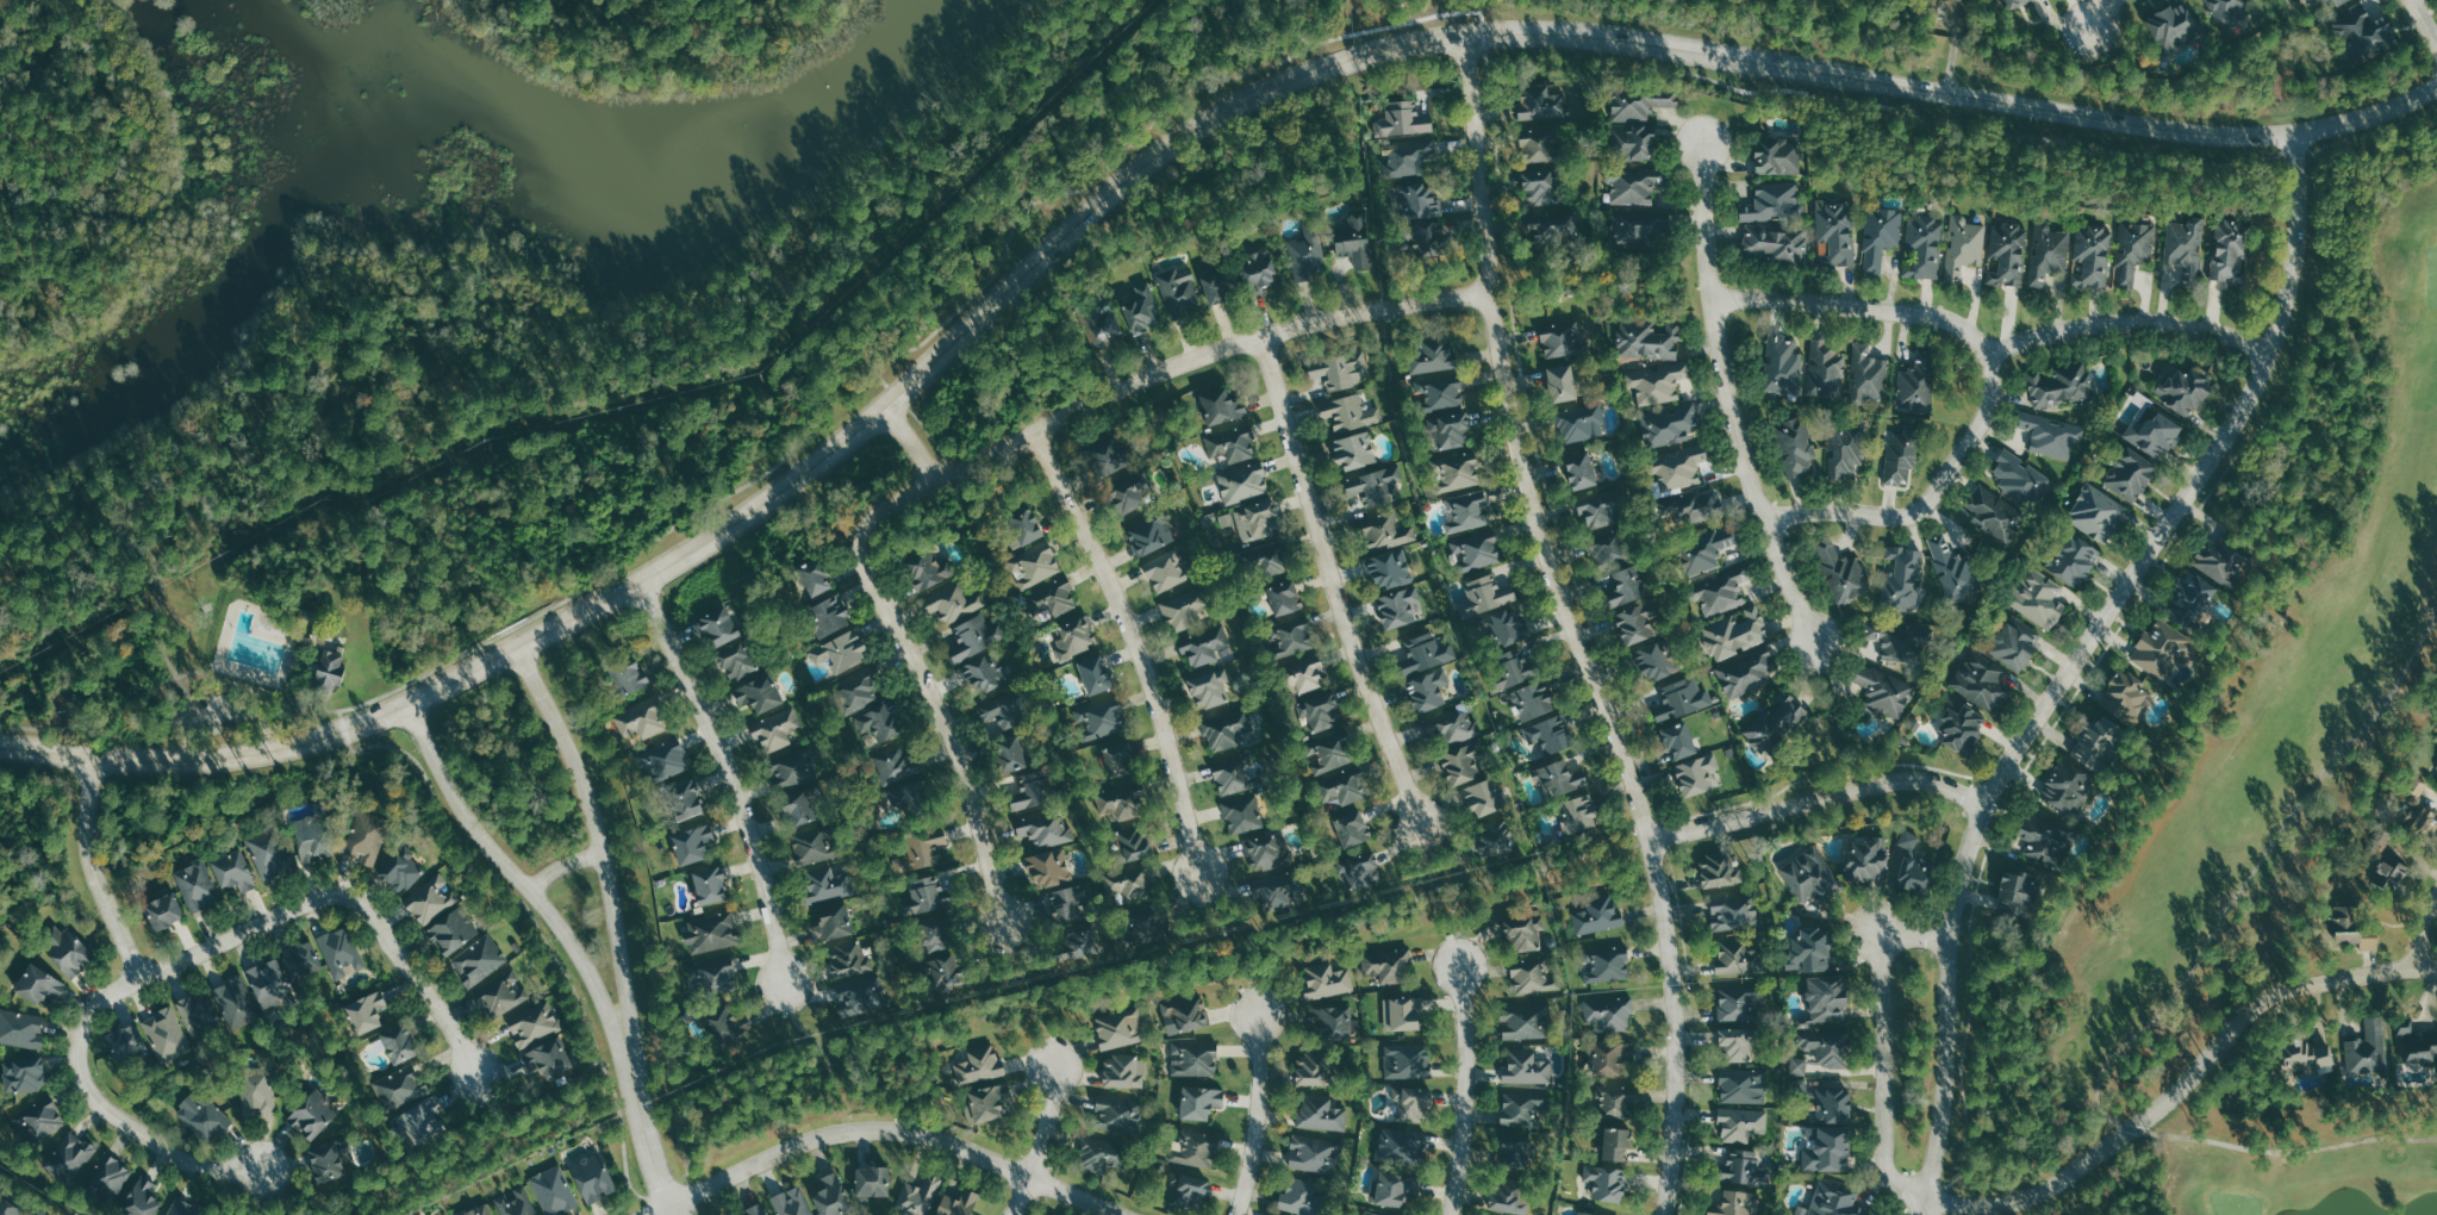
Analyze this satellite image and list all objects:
building: (2331, 2)
building: (2013, 4)
road: (1402, 11)
road: (2103, 13)
road: (2426, 20)
park: (1335, 26)
building: (2174, 26)
road: (1609, 32)
building: (2364, 35)
building: (1540, 102)
building: (1403, 119)
building: (1637, 120)
road: (1133, 145)
building: (1776, 156)
building: (1410, 160)
building: (1633, 185)
building: (1537, 188)
building: (1774, 202)
building: (1420, 222)
building: (1640, 228)
building: (1835, 231)
building: (1881, 237)
building: (1354, 239)
building: (1775, 244)
building: (2186, 245)
building: (1964, 247)
building: (1924, 248)
building: (2230, 250)
building: (2133, 251)
building: (1308, 253)
building: (2048, 254)
building: (2008, 255)
building: (2093, 257)
building: (1258, 269)
building: (1216, 281)
building: (1179, 291)
building: (1141, 311)
building: (1101, 324)
building: (1557, 339)
building: (1647, 339)
road: (1996, 351)
building: (1432, 355)
building: (1783, 364)
building: (1826, 368)
building: (1340, 369)
building: (1868, 374)
building: (1560, 382)
building: (1657, 382)
building: (2061, 385)
building: (1915, 387)
road: (1122, 388)
building: (2184, 390)
building: (1438, 392)
road: (1732, 399)
building: (1221, 405)
building: (1350, 413)
building: (1579, 422)
building: (1669, 424)
building: (1450, 428)
building: (2154, 432)
building: (2051, 435)
building: (1234, 442)
road: (911, 445)
building: (1794, 447)
building: (1354, 450)
building: (1844, 450)
building: (1901, 455)
building: (1105, 456)
building: (1678, 467)
building: (1579, 469)
building: (1456, 472)
building: (2130, 473)
building: (2021, 476)
building: (1242, 481)
building: (1375, 484)
building: (1130, 492)
road: (1930, 505)
building: (1695, 507)
building: (1466, 511)
building: (1597, 512)
building: (2096, 512)
building: (1993, 513)
building: (1253, 519)
building: (1022, 524)
building: (1385, 531)
building: (1149, 534)
building: (1476, 549)
building: (1704, 550)
building: (1612, 552)
building: (2073, 560)
building: (2219, 560)
building: (1271, 561)
building: (1035, 565)
building: (927, 568)
building: (1389, 568)
building: (1953, 568)
building: (1166, 571)
building: (1840, 572)
building: (814, 575)
building: (1902, 577)
road: (1333, 582)
building: (1627, 585)
building: (1486, 592)
building: (1721, 592)
building: (1284, 597)
building: (2038, 597)
building: (1052, 598)
building: (2193, 599)
building: (954, 603)
building: (1397, 605)
building: (1183, 610)
building: (827, 615)
building: (716, 622)
building: (1634, 622)
building: (1507, 627)
road: (1576, 628)
building: (1870, 630)
building: (1735, 633)
building: (974, 636)
building: (1074, 636)
building: (1292, 637)
building: (2015, 642)
road: (1139, 646)
building: (1204, 646)
building: (2163, 648)
building: (840, 650)
building: (1426, 653)
building: (735, 660)
building: (1653, 661)
road: (2088, 666)
road: (475, 668)
building: (1509, 668)
building: (329, 669)
building: (985, 672)
building: (1746, 672)
building: (1095, 674)
building: (1304, 674)
building: (628, 675)
building: (1981, 679)
building: (1877, 687)
building: (1210, 688)
building: (1427, 690)
building: (2127, 691)
building: (758, 693)
building: (858, 694)
building: (1682, 698)
building: (1532, 699)
road: (222, 709)
building: (1321, 711)
building: (998, 715)
building: (1099, 717)
building: (642, 719)
building: (879, 722)
building: (1775, 722)
building: (1452, 727)
building: (1961, 727)
building: (1226, 728)
building: (777, 730)
building: (1550, 733)
building: (1678, 740)
building: (2098, 742)
building: (1009, 753)
building: (1328, 753)
road: (966, 758)
building: (667, 759)
building: (1117, 760)
building: (896, 762)
building: (1460, 764)
building: (790, 771)
building: (1695, 774)
road: (731, 775)
building: (1232, 777)
building: (1560, 778)
building: (2068, 786)
building: (2416, 786)
building: (1340, 790)
building: (904, 791)
building: (1031, 793)
building: (1479, 798)
building: (683, 799)
building: (1116, 802)
road: (1824, 802)
building: (799, 809)
building: (1242, 814)
building: (1578, 814)
building: (1042, 827)
building: (1351, 827)
road: (600, 834)
building: (310, 837)
building: (366, 837)
building: (1494, 839)
building: (2044, 840)
building: (691, 842)
building: (1132, 842)
building: (810, 846)
building: (922, 848)
building: (1267, 852)
building: (269, 854)
building: (1866, 858)
road: (1423, 859)
road: (565, 865)
building: (1913, 866)
building: (1048, 867)
building: (1363, 868)
road: (92, 870)
building: (400, 870)
road: (515, 870)
building: (1718, 870)
building: (232, 871)
building: (2387, 871)
building: (1810, 876)
building: (199, 881)
building: (823, 881)
building: (1126, 881)
building: (709, 883)
building: (1277, 892)
building: (2017, 892)
building: (927, 895)
road: (342, 896)
building: (431, 899)
building: (1070, 902)
building: (164, 903)
building: (1596, 914)
building: (1732, 914)
road: (1217, 916)
building: (831, 923)
building: (2351, 928)
building: (451, 930)
road: (1457, 930)
road: (2423, 930)
building: (710, 933)
building: (1522, 933)
building: (1082, 948)
building: (70, 949)
building: (1809, 949)
building: (341, 952)
building: (939, 958)
building: (1738, 958)
building: (847, 959)
building: (479, 960)
building: (301, 961)
building: (1604, 964)
building: (1388, 965)
building: (712, 976)
building: (1533, 976)
building: (38, 978)
building: (1326, 980)
building: (267, 982)
road: (1252, 986)
building: (860, 993)
building: (501, 996)
building: (1825, 998)
building: (239, 999)
road: (1021, 999)
building: (1738, 1003)
building: (366, 1011)
building: (1184, 1012)
building: (1401, 1012)
building: (1609, 1012)
building: (1525, 1022)
building: (534, 1023)
building: (1334, 1023)
building: (727, 1024)
building: (21, 1028)
building: (1120, 1028)
road: (802, 1029)
road: (931, 1033)
building: (169, 1034)
building: (127, 1036)
road: (1882, 1036)
building: (399, 1042)
building: (1824, 1043)
building: (1735, 1045)
building: (2368, 1048)
building: (2418, 1049)
building: (1610, 1057)
building: (2302, 1057)
building: (547, 1058)
building: (1193, 1058)
building: (1407, 1060)
building: (979, 1065)
building: (1797, 1066)
building: (1526, 1067)
building: (1311, 1068)
building: (29, 1071)
building: (1124, 1071)
building: (1741, 1085)
building: (399, 1088)
building: (257, 1090)
road: (1465, 1091)
road: (2195, 1099)
building: (1199, 1101)
building: (1614, 1101)
road: (490, 1102)
building: (986, 1102)
building: (1415, 1104)
building: (1833, 1104)
road: (104, 1108)
building: (1520, 1108)
building: (1321, 1113)
building: (313, 1114)
building: (1117, 1114)
building: (206, 1115)
road: (1258, 1116)
building: (39, 1122)
building: (418, 1122)
building: (1741, 1123)
road: (644, 1127)
road: (884, 1130)
road: (1042, 1144)
building: (1615, 1144)
building: (1402, 1145)
building: (75, 1148)
building: (1195, 1148)
building: (1826, 1149)
building: (1099, 1153)
building: (1314, 1153)
building: (1516, 1154)
building: (325, 1161)
building: (112, 1169)
building: (1741, 1169)
building: (592, 1177)
building: (872, 1180)
building: (1606, 1182)
building: (1186, 1186)
building: (1395, 1189)
road: (275, 1190)
building: (554, 1190)
building: (831, 1195)
building: (145, 1196)
building: (918, 1196)
building: (1301, 1197)
building: (1507, 1197)
building: (1833, 1201)
building: (791, 1202)
building: (517, 1203)
building: (956, 1203)
building: (1735, 1203)
building: (8, 1208)
building: (182, 1209)
building: (479, 1210)
building: (753, 1210)
building: (38, 1211)
building: (1582, 1213)
building: (1370, 1214)

